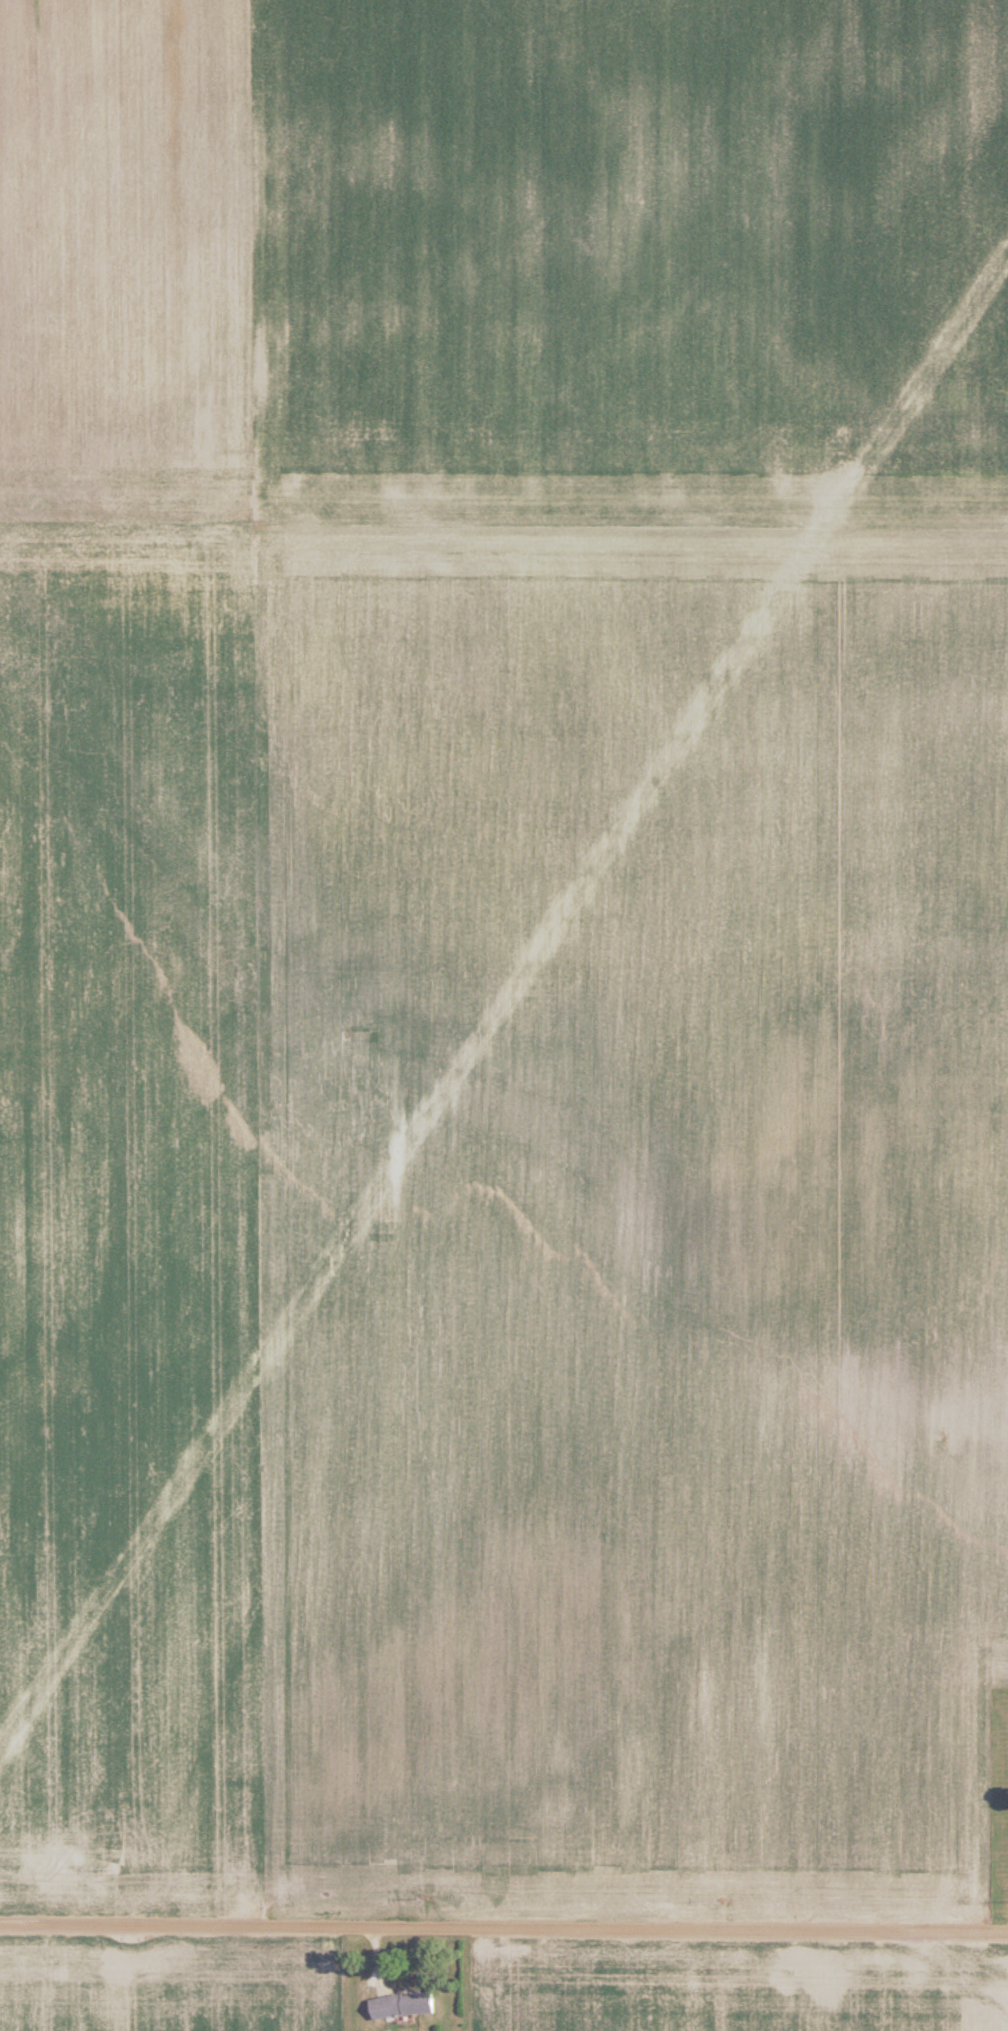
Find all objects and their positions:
road: (504, 1929)
building: (401, 2004)

